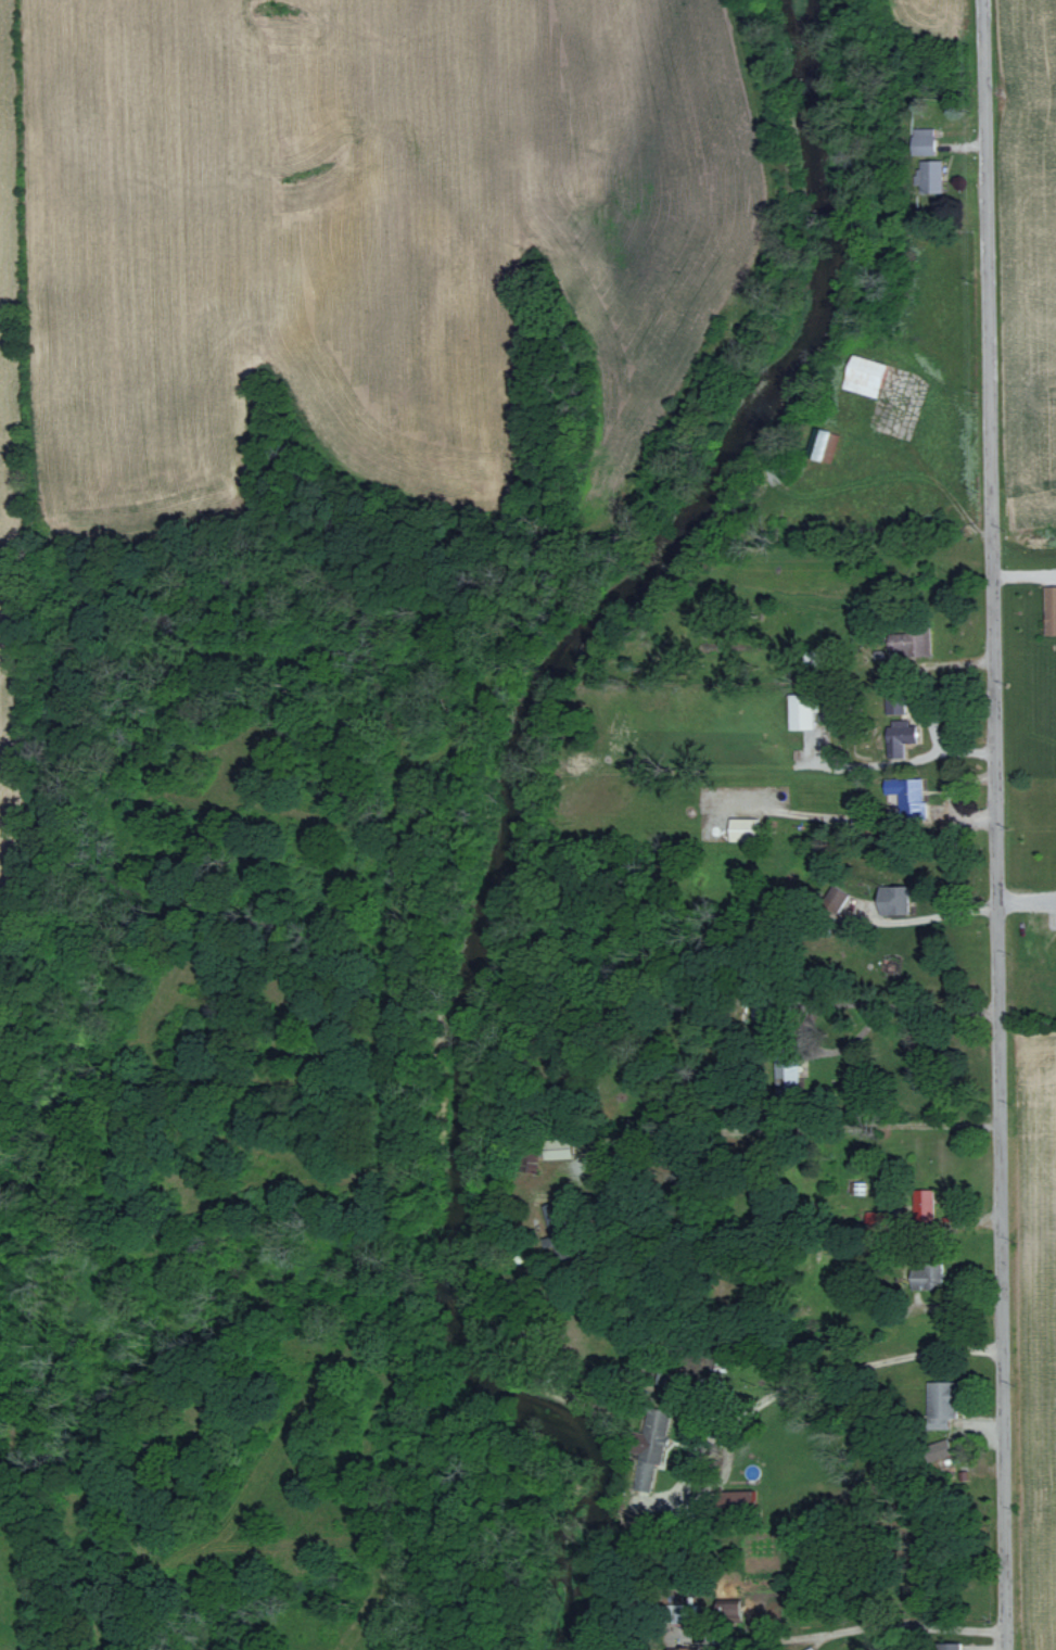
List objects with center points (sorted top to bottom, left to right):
building: (927, 140)
building: (932, 175)
building: (829, 445)
building: (1051, 609)
building: (914, 643)
building: (894, 669)
building: (803, 710)
building: (903, 736)
building: (911, 792)
road: (992, 824)
building: (747, 828)
building: (896, 899)
road: (934, 913)
road: (781, 1128)
building: (559, 1147)
building: (924, 1278)
road: (776, 1391)
building: (945, 1401)
building: (741, 1500)
building: (733, 1608)
road: (860, 1626)

